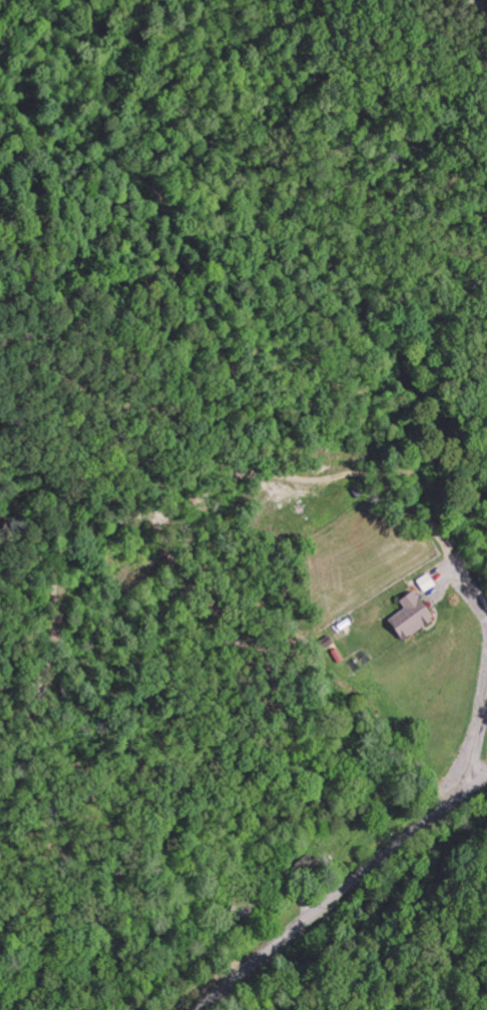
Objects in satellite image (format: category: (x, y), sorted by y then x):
building: (425, 580)
building: (410, 614)
road: (343, 891)

